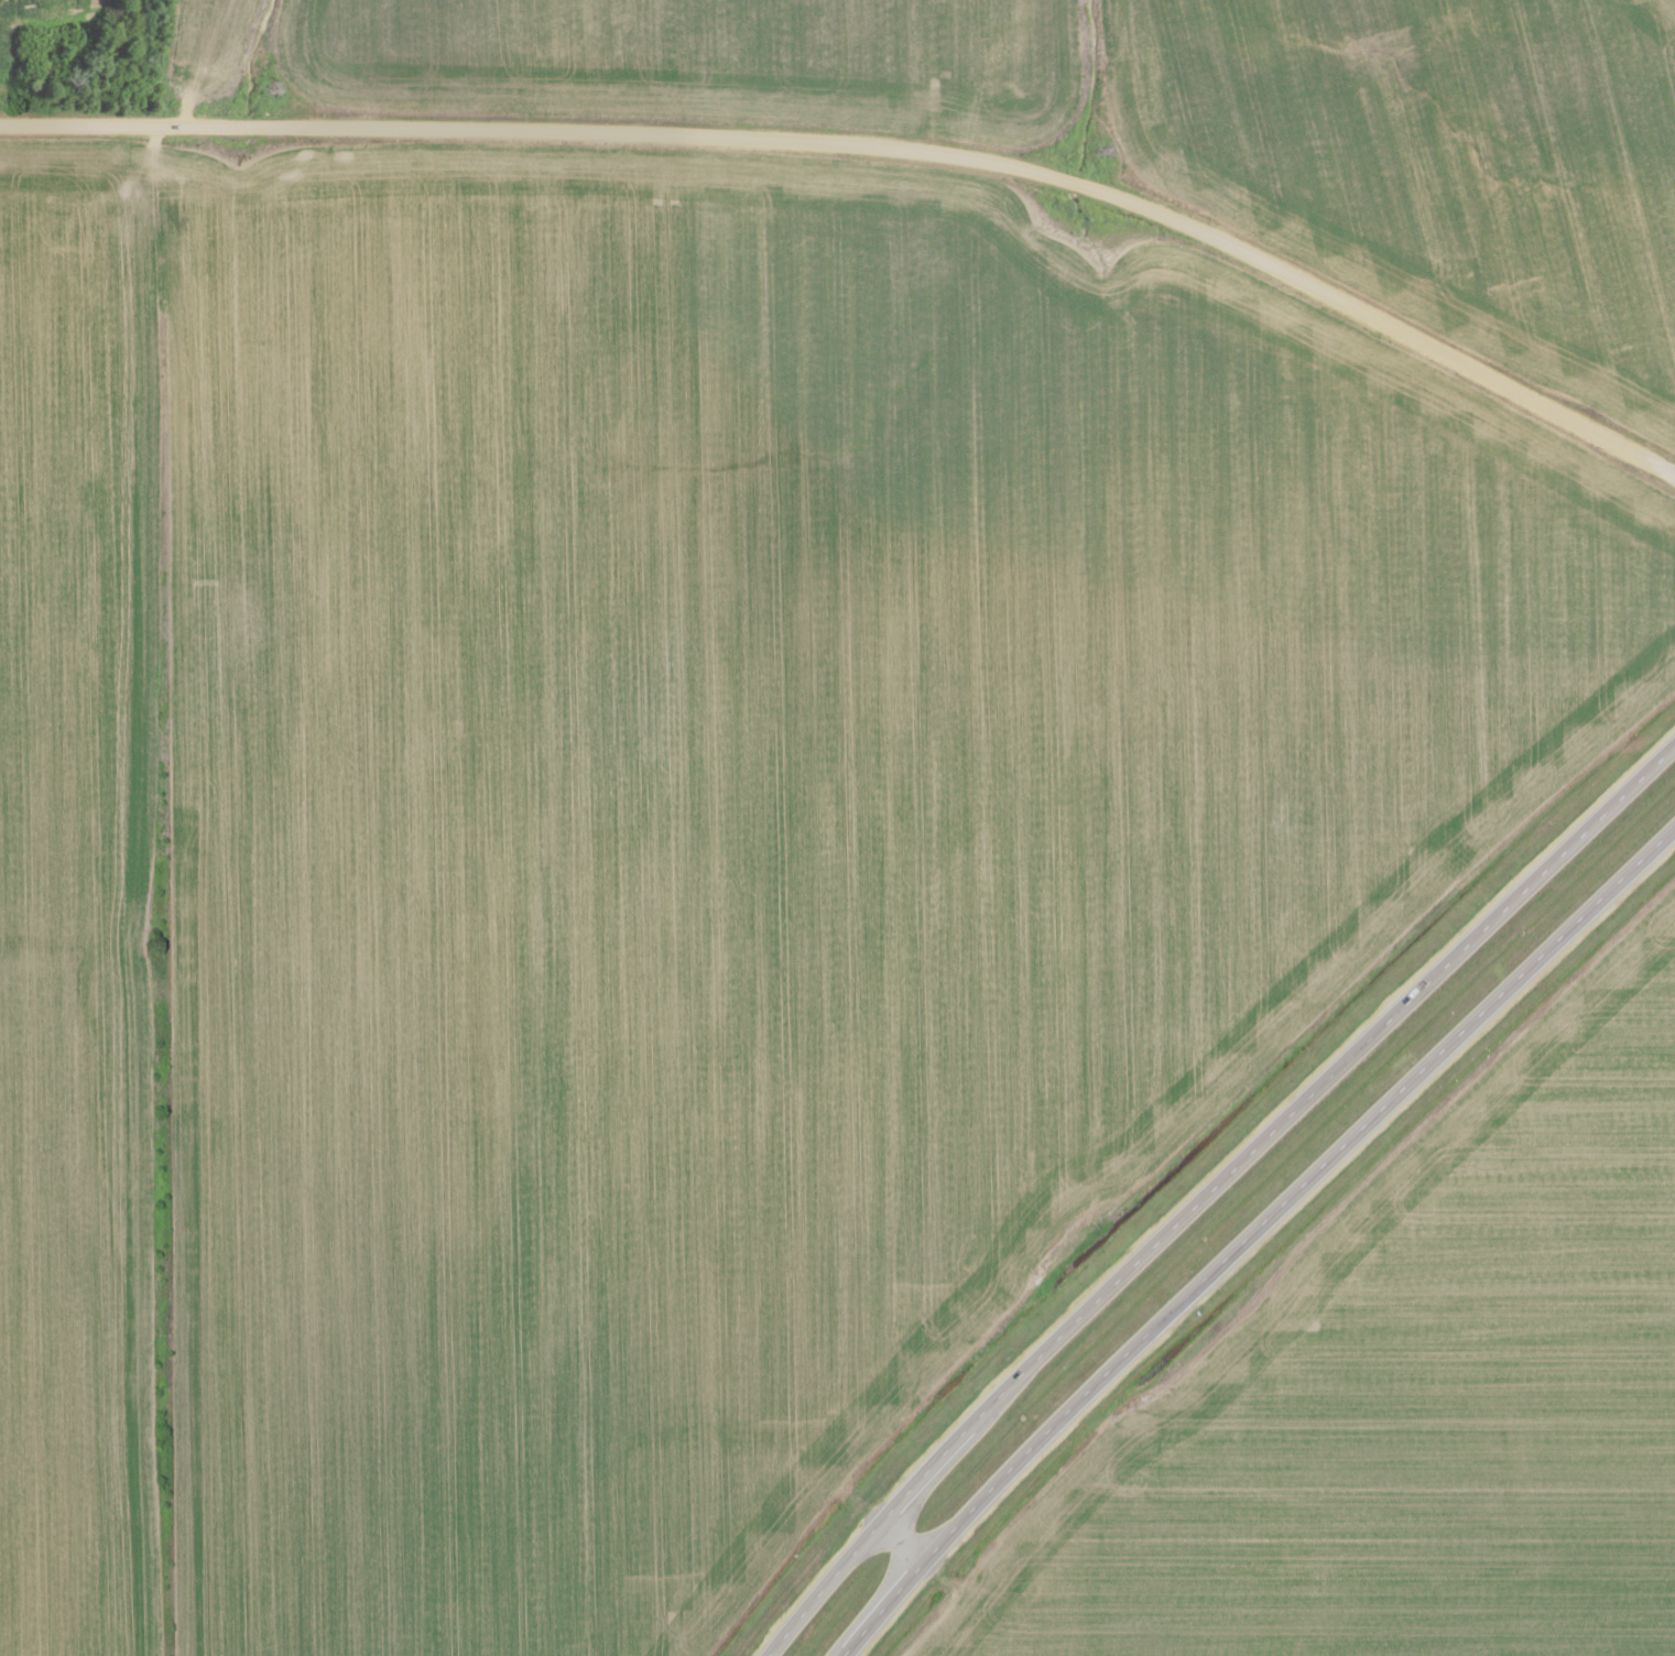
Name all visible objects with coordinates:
road: (868, 163)
road: (1320, 1081)
road: (1297, 1190)
road: (923, 1472)
road: (902, 1540)
road: (822, 1588)
road: (887, 1606)
road: (846, 1655)

